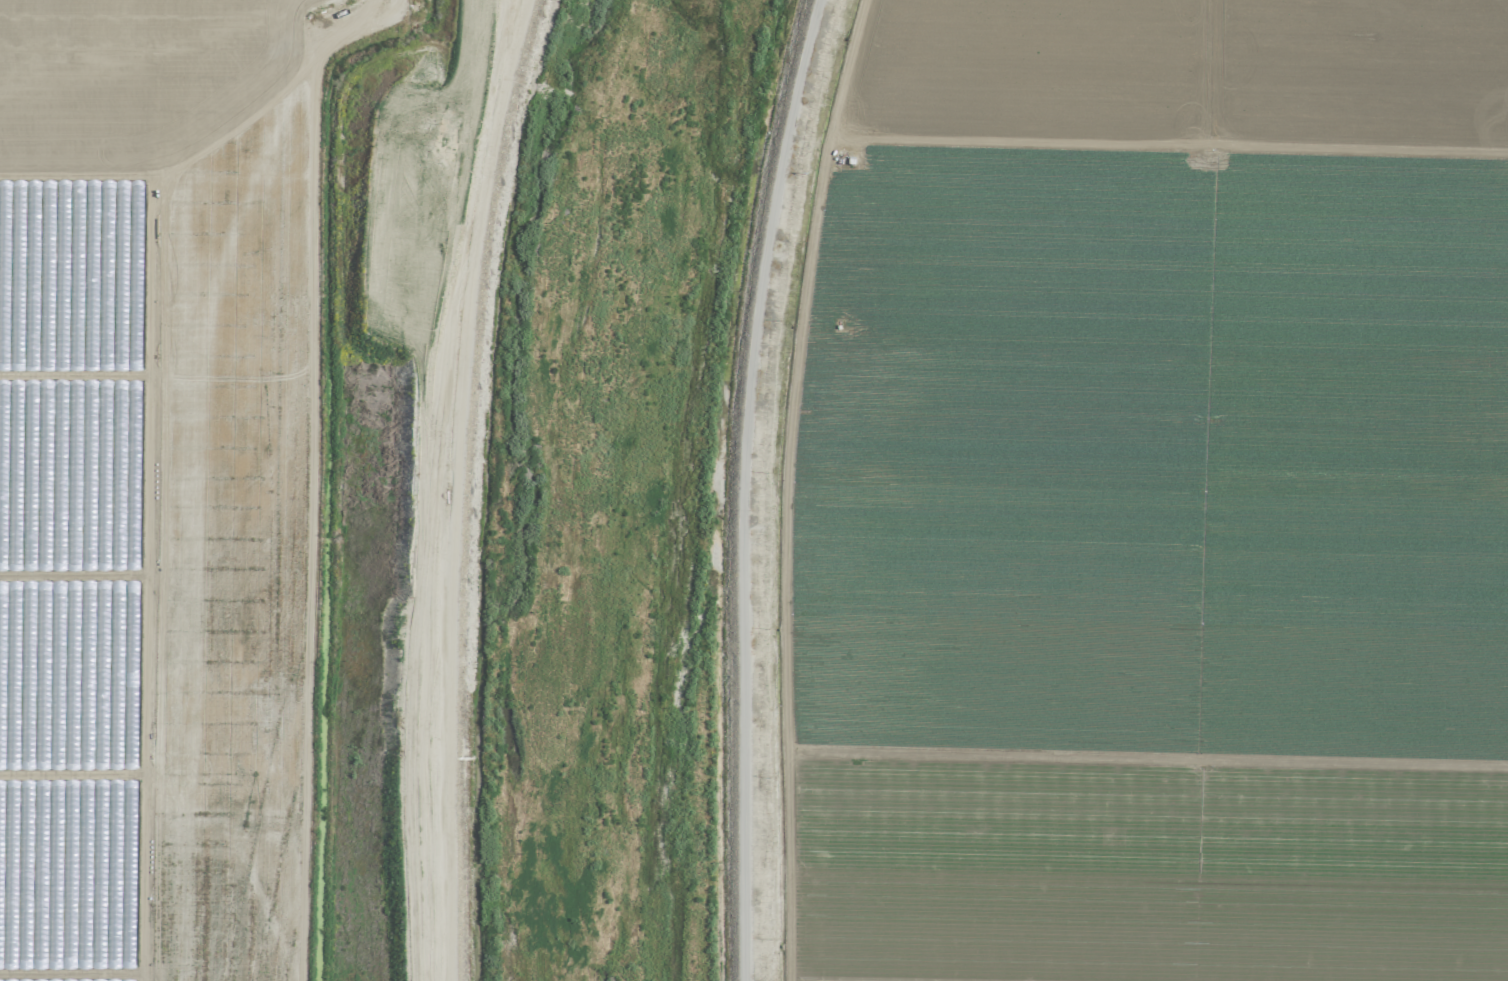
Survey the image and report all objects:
crop: (228, 479)
river: (577, 485)
road: (737, 486)
crop: (1156, 500)

